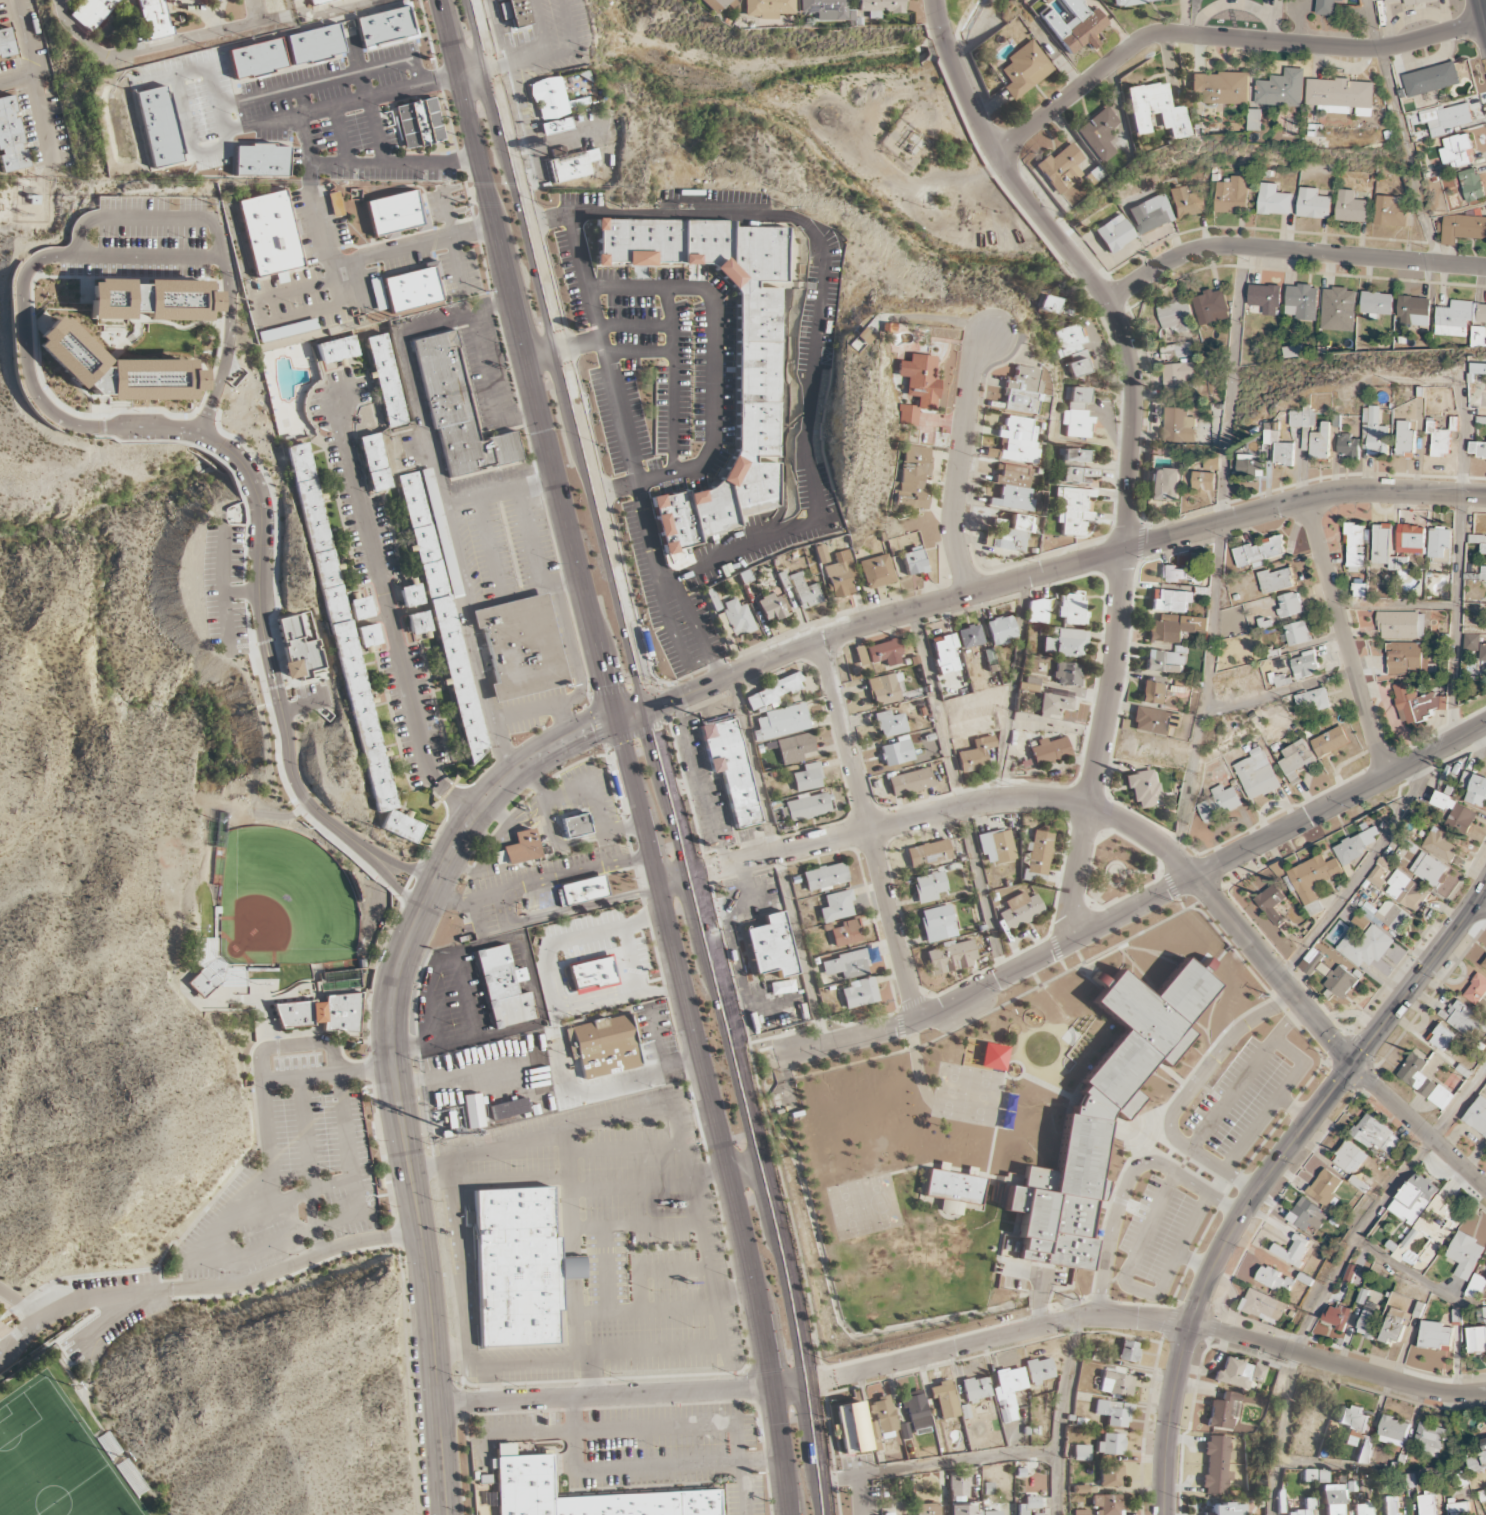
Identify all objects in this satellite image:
building: (215, 0)
building: (217, 0)
building: (289, 0)
building: (292, 0)
building: (1377, 0)
building: (318, 1)
building: (1411, 1)
building: (1132, 2)
building: (712, 4)
building: (877, 7)
building: (1327, 7)
building: (764, 8)
building: (823, 10)
building: (91, 12)
road: (1482, 12)
building: (518, 13)
building: (150, 18)
park: (972, 20)
building: (385, 27)
building: (1082, 30)
road: (1221, 38)
building: (6, 44)
building: (314, 45)
road: (153, 49)
road: (528, 54)
building: (256, 59)
building: (1025, 68)
road: (474, 69)
road: (170, 73)
road: (18, 78)
building: (1431, 79)
road: (328, 80)
road: (38, 83)
building: (1221, 88)
building: (1282, 89)
road: (363, 94)
building: (550, 99)
road: (302, 100)
road: (342, 103)
building: (1156, 110)
building: (1446, 119)
building: (1255, 120)
building: (419, 123)
building: (554, 126)
building: (159, 127)
road: (1400, 131)
road: (341, 134)
building: (1099, 134)
building: (11, 137)
road: (209, 151)
road: (308, 151)
building: (1456, 151)
building: (261, 160)
road: (394, 162)
building: (573, 165)
building: (1061, 169)
building: (1472, 185)
building: (1231, 195)
building: (1272, 200)
building: (1186, 203)
building: (1312, 204)
building: (1351, 207)
building: (1390, 211)
building: (394, 213)
building: (1151, 214)
road: (149, 218)
building: (1463, 229)
building: (269, 233)
building: (1115, 234)
road: (1289, 250)
road: (148, 255)
road: (1076, 263)
road: (128, 278)
building: (413, 288)
building: (377, 293)
building: (1265, 299)
building: (150, 300)
building: (1302, 302)
building: (1047, 304)
building: (1376, 304)
building: (1211, 307)
building: (1338, 309)
building: (1413, 311)
building: (1479, 313)
building: (1176, 317)
building: (1453, 318)
road: (819, 319)
road: (634, 325)
building: (285, 331)
building: (860, 336)
road: (219, 345)
road: (581, 346)
building: (337, 349)
building: (1072, 349)
building: (1176, 351)
road: (638, 353)
road: (543, 356)
road: (223, 360)
building: (757, 368)
building: (115, 369)
building: (1478, 369)
road: (712, 373)
road: (37, 376)
road: (672, 379)
road: (26, 380)
building: (387, 380)
building: (1179, 380)
building: (914, 387)
building: (1022, 391)
building: (1077, 397)
road: (614, 400)
building: (457, 412)
road: (164, 414)
building: (1303, 417)
building: (1078, 424)
building: (1178, 426)
road: (219, 430)
building: (1374, 431)
building: (1438, 439)
building: (1016, 440)
building: (1405, 440)
building: (1320, 442)
building: (1279, 446)
building: (1348, 448)
building: (1477, 449)
building: (1073, 455)
building: (375, 462)
road: (958, 463)
building: (1072, 464)
building: (1213, 464)
road: (225, 466)
building: (1250, 466)
building: (1076, 475)
building: (911, 480)
building: (1205, 481)
building: (1165, 485)
building: (1012, 499)
road: (1302, 502)
building: (1073, 511)
road: (1460, 517)
building: (1014, 523)
road: (276, 534)
building: (1411, 539)
building: (1440, 544)
building: (1355, 547)
building: (1387, 551)
building: (1259, 553)
road: (1217, 554)
building: (908, 563)
building: (876, 571)
building: (1182, 574)
building: (841, 576)
building: (1277, 580)
road: (222, 590)
road: (240, 592)
building: (804, 592)
building: (410, 594)
building: (1171, 601)
building: (442, 603)
building: (1290, 605)
building: (360, 607)
building: (771, 607)
road: (1397, 607)
building: (1071, 611)
building: (1037, 612)
road: (390, 615)
building: (736, 618)
building: (417, 623)
road: (867, 625)
building: (1401, 625)
building: (1175, 628)
road: (247, 629)
road: (695, 630)
building: (1001, 630)
building: (1297, 633)
building: (367, 635)
road: (672, 635)
building: (970, 636)
road: (1347, 638)
building: (1471, 642)
building: (1065, 644)
road: (264, 645)
building: (344, 645)
building: (299, 646)
building: (521, 647)
building: (884, 653)
building: (1483, 653)
building: (944, 654)
building: (859, 655)
building: (1407, 657)
road: (278, 659)
building: (1166, 661)
building: (1304, 666)
building: (1067, 674)
road: (1112, 680)
traffic signals: (609, 681)
building: (882, 690)
road: (1010, 690)
road: (643, 692)
building: (771, 692)
road: (1280, 692)
building: (1152, 693)
building: (1314, 700)
traffic signals: (672, 701)
building: (1416, 704)
building: (1052, 705)
building: (1155, 721)
building: (781, 722)
building: (891, 724)
road: (1483, 727)
traffic signals: (591, 728)
road: (569, 737)
traffic signals: (655, 737)
building: (1329, 742)
building: (794, 748)
building: (1049, 750)
building: (897, 752)
road: (626, 755)
building: (975, 755)
building: (1296, 761)
building: (731, 768)
building: (1256, 774)
building: (807, 778)
building: (910, 782)
building: (1144, 789)
building: (1474, 789)
road: (287, 791)
road: (959, 794)
building: (1219, 803)
building: (807, 807)
building: (1457, 814)
road: (90, 825)
building: (575, 826)
road: (888, 826)
road: (868, 830)
building: (1358, 844)
building: (1440, 844)
building: (996, 846)
building: (520, 848)
building: (928, 853)
building: (1039, 853)
road: (776, 861)
road: (398, 865)
road: (594, 869)
building: (1280, 869)
building: (1429, 869)
building: (1378, 873)
road: (1077, 874)
road: (1358, 874)
building: (824, 877)
road: (675, 880)
road: (389, 881)
building: (1312, 881)
building: (929, 887)
building: (580, 891)
building: (1405, 891)
road: (502, 893)
road: (425, 901)
park: (281, 902)
building: (1272, 903)
building: (836, 906)
road: (1140, 907)
building: (1020, 910)
road: (1479, 910)
road: (570, 912)
building: (1386, 916)
building: (215, 919)
building: (938, 924)
building: (846, 933)
building: (770, 946)
building: (1365, 947)
building: (951, 957)
road: (444, 961)
building: (220, 965)
building: (846, 965)
building: (1484, 965)
building: (260, 969)
building: (592, 975)
building: (1340, 982)
building: (201, 983)
road: (951, 988)
building: (500, 989)
building: (1476, 990)
road: (1290, 992)
building: (613, 993)
building: (859, 993)
building: (319, 1013)
building: (1463, 1019)
road: (1288, 1022)
building: (1442, 1037)
building: (605, 1046)
road: (1287, 1049)
traffic signals: (1355, 1064)
building: (1423, 1082)
road: (787, 1083)
road: (1187, 1094)
road: (254, 1108)
road: (1294, 1109)
building: (473, 1110)
building: (508, 1111)
building: (1103, 1114)
building: (1477, 1116)
road: (304, 1120)
building: (1377, 1135)
road: (346, 1149)
building: (1350, 1158)
parking lot: (290, 1165)
road: (747, 1171)
road: (1266, 1176)
road: (269, 1180)
road: (1126, 1181)
building: (1325, 1187)
building: (953, 1190)
road: (310, 1191)
building: (1413, 1199)
building: (1307, 1216)
road: (214, 1233)
building: (1428, 1234)
road: (379, 1247)
building: (1292, 1251)
building: (1465, 1255)
road: (1195, 1263)
building: (517, 1267)
road: (1403, 1270)
road: (1331, 1271)
road: (1027, 1273)
building: (1350, 1274)
road: (178, 1276)
building: (1274, 1280)
road: (233, 1285)
building: (1476, 1287)
road: (172, 1289)
road: (427, 1289)
road: (1135, 1289)
road: (1038, 1301)
road: (21, 1305)
building: (1263, 1306)
parking lot: (112, 1311)
building: (1481, 1314)
building: (1337, 1316)
road: (103, 1320)
building: (1368, 1325)
building: (1394, 1326)
road: (5, 1333)
building: (1435, 1335)
building: (1476, 1340)
road: (22, 1343)
road: (965, 1345)
building: (1128, 1352)
parking lot: (3, 1362)
building: (1039, 1370)
building: (1239, 1374)
building: (1116, 1384)
building: (975, 1389)
building: (1008, 1392)
building: (944, 1400)
building: (1223, 1411)
building: (916, 1413)
building: (1114, 1413)
building: (883, 1414)
road: (1062, 1416)
building: (1352, 1421)
building: (851, 1428)
building: (873, 1430)
building: (1394, 1432)
building: (1431, 1440)
building: (108, 1445)
building: (1110, 1445)
building: (504, 1450)
road: (815, 1450)
building: (1365, 1450)
building: (1081, 1453)
park: (53, 1461)
road: (966, 1461)
road: (1320, 1464)
building: (1216, 1465)
building: (521, 1475)
building: (1111, 1476)
building: (1315, 1476)
building: (131, 1477)
road: (848, 1478)
building: (958, 1484)
building: (1080, 1489)
road: (857, 1496)
building: (1337, 1497)
building: (1107, 1504)
building: (1310, 1504)
building: (1028, 1505)
building: (1390, 1505)
building: (1427, 1505)
building: (926, 1509)
building: (1227, 1509)
building: (1362, 1509)
building: (1459, 1509)
building: (962, 1510)
building: (1080, 1512)
building: (993, 1513)
building: (1299, 1513)
building: (888, 1514)

